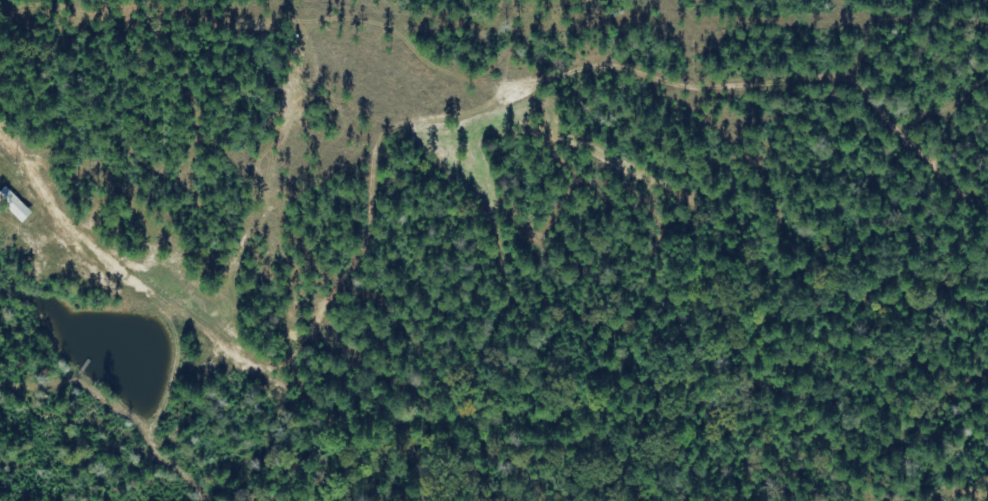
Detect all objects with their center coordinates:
building: (12, 203)

